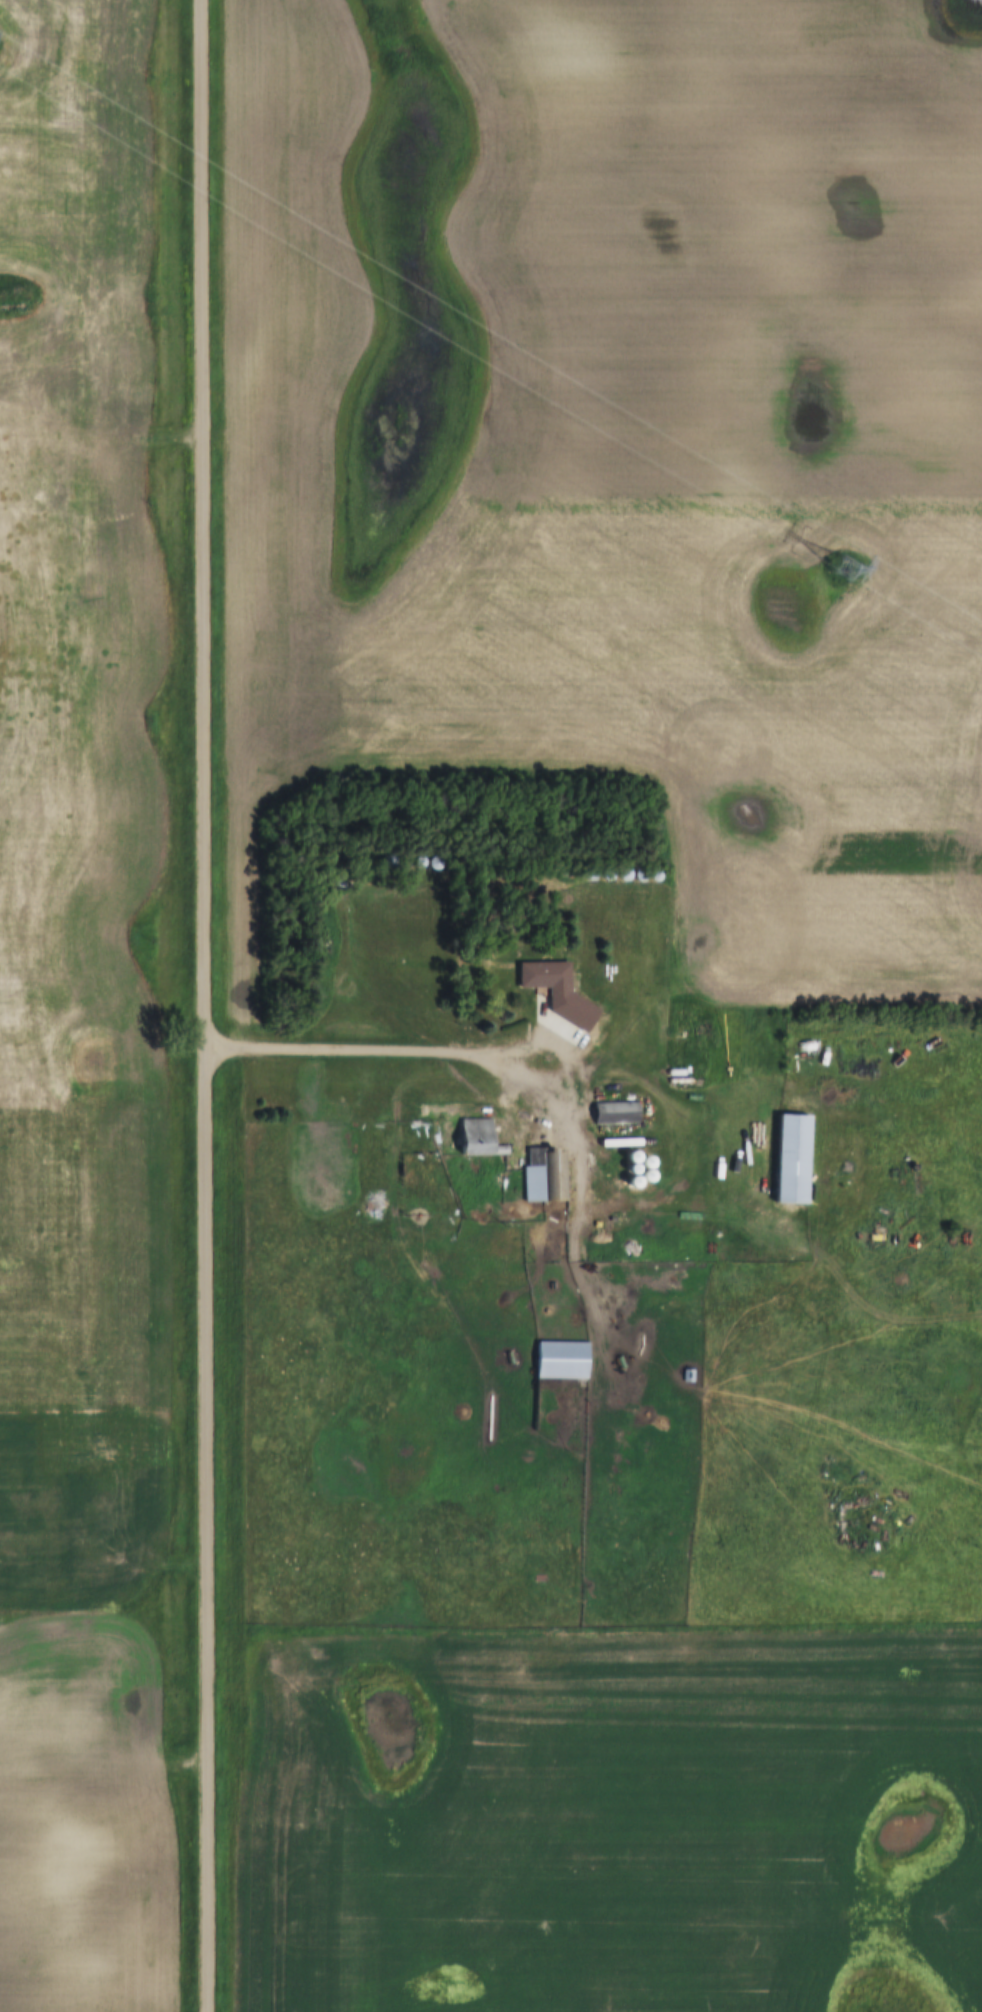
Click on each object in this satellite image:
power tower: (838, 569)
building: (542, 978)
road: (201, 1005)
road: (459, 1051)
building: (614, 1114)
building: (459, 1137)
building: (543, 1175)
building: (560, 1361)

